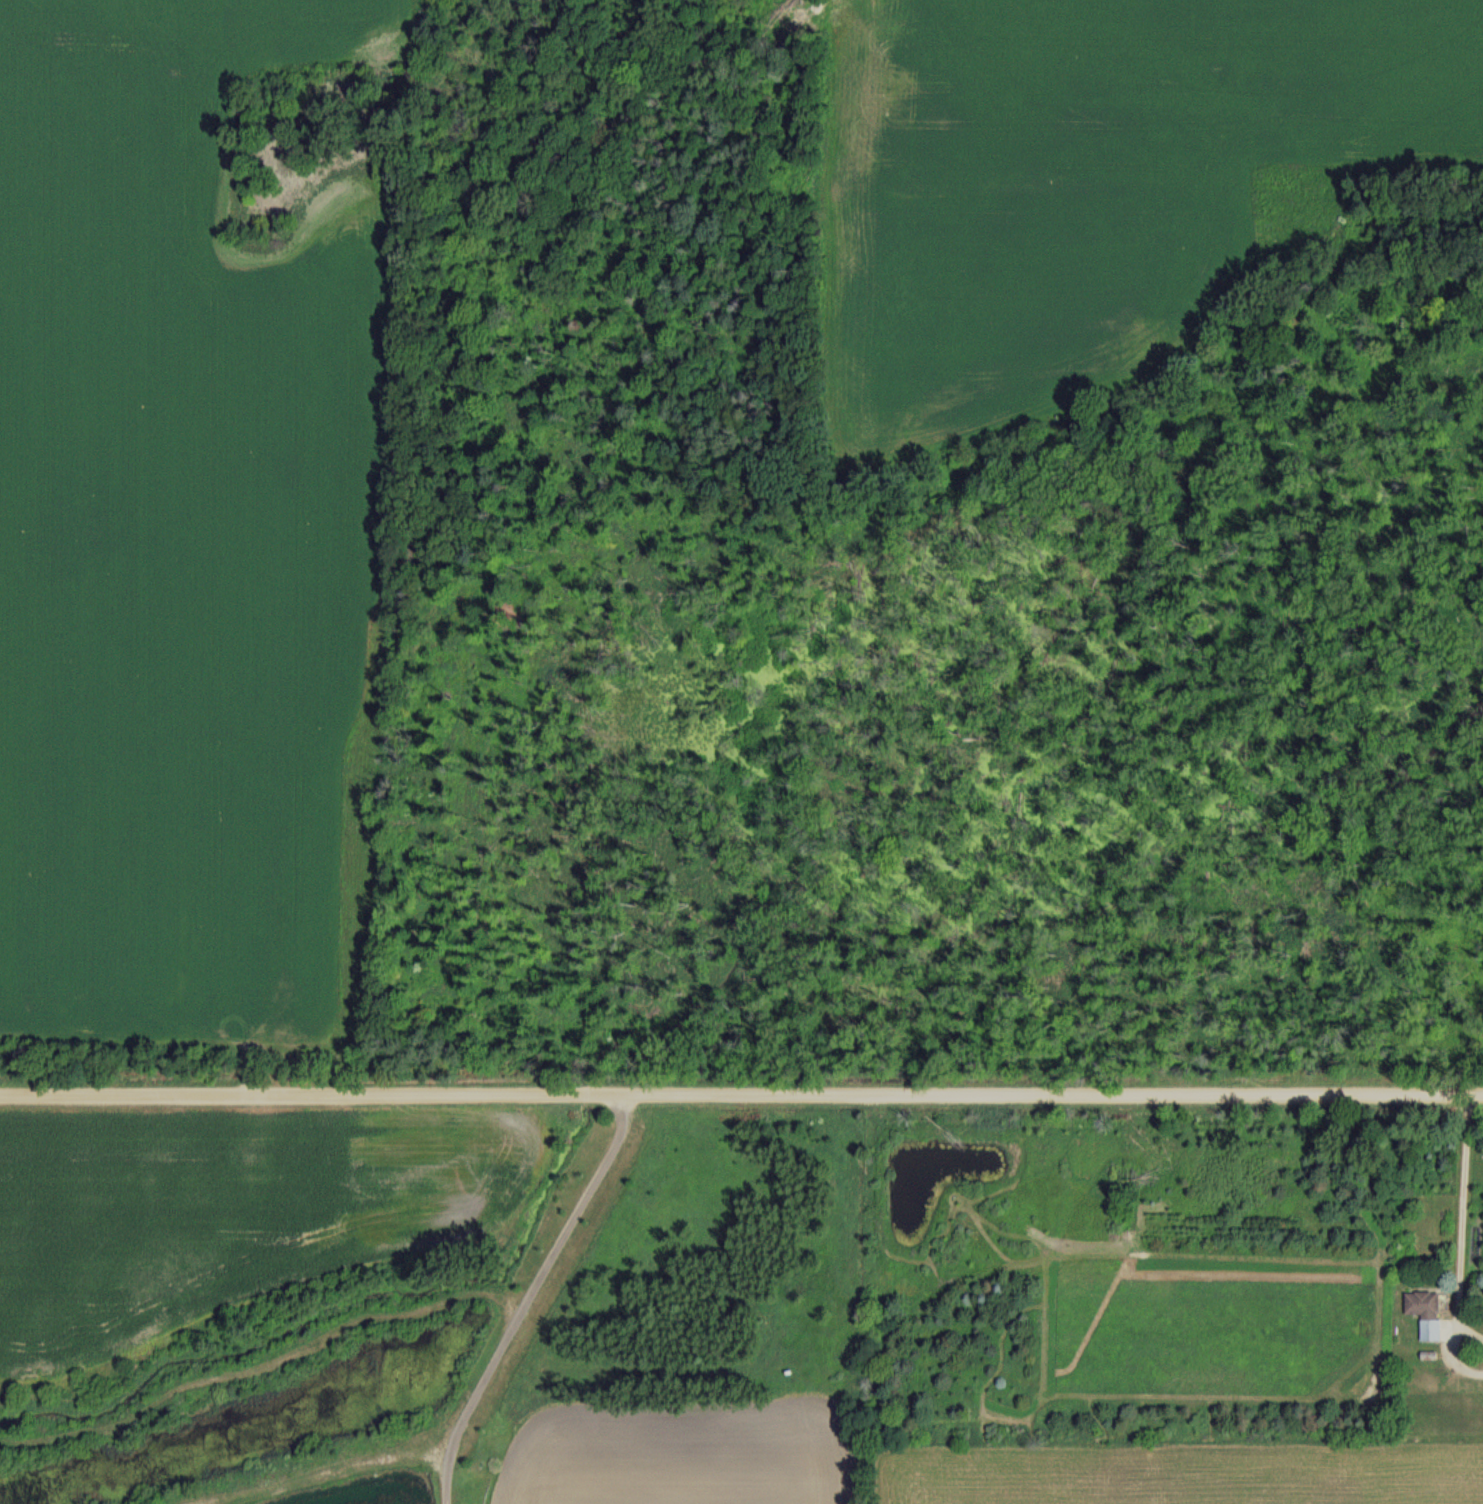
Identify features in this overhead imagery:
road: (741, 1092)
road: (1459, 1208)
road: (528, 1296)
building: (1426, 1313)
road: (1470, 1325)
road: (1456, 1354)

